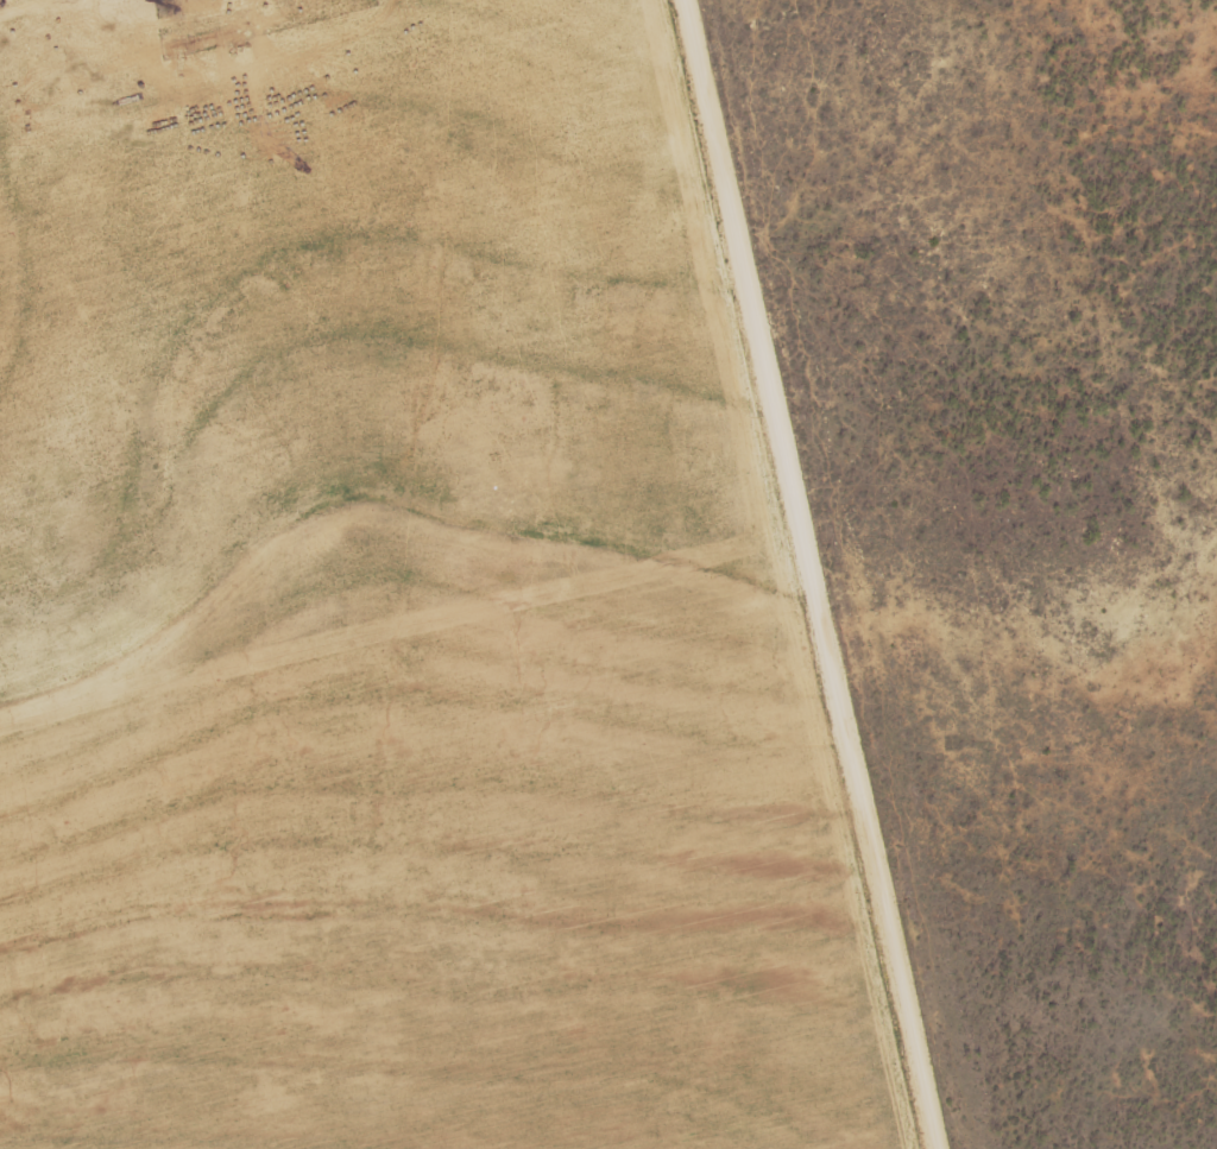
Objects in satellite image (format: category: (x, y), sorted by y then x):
road: (379, 511)
road: (811, 574)

